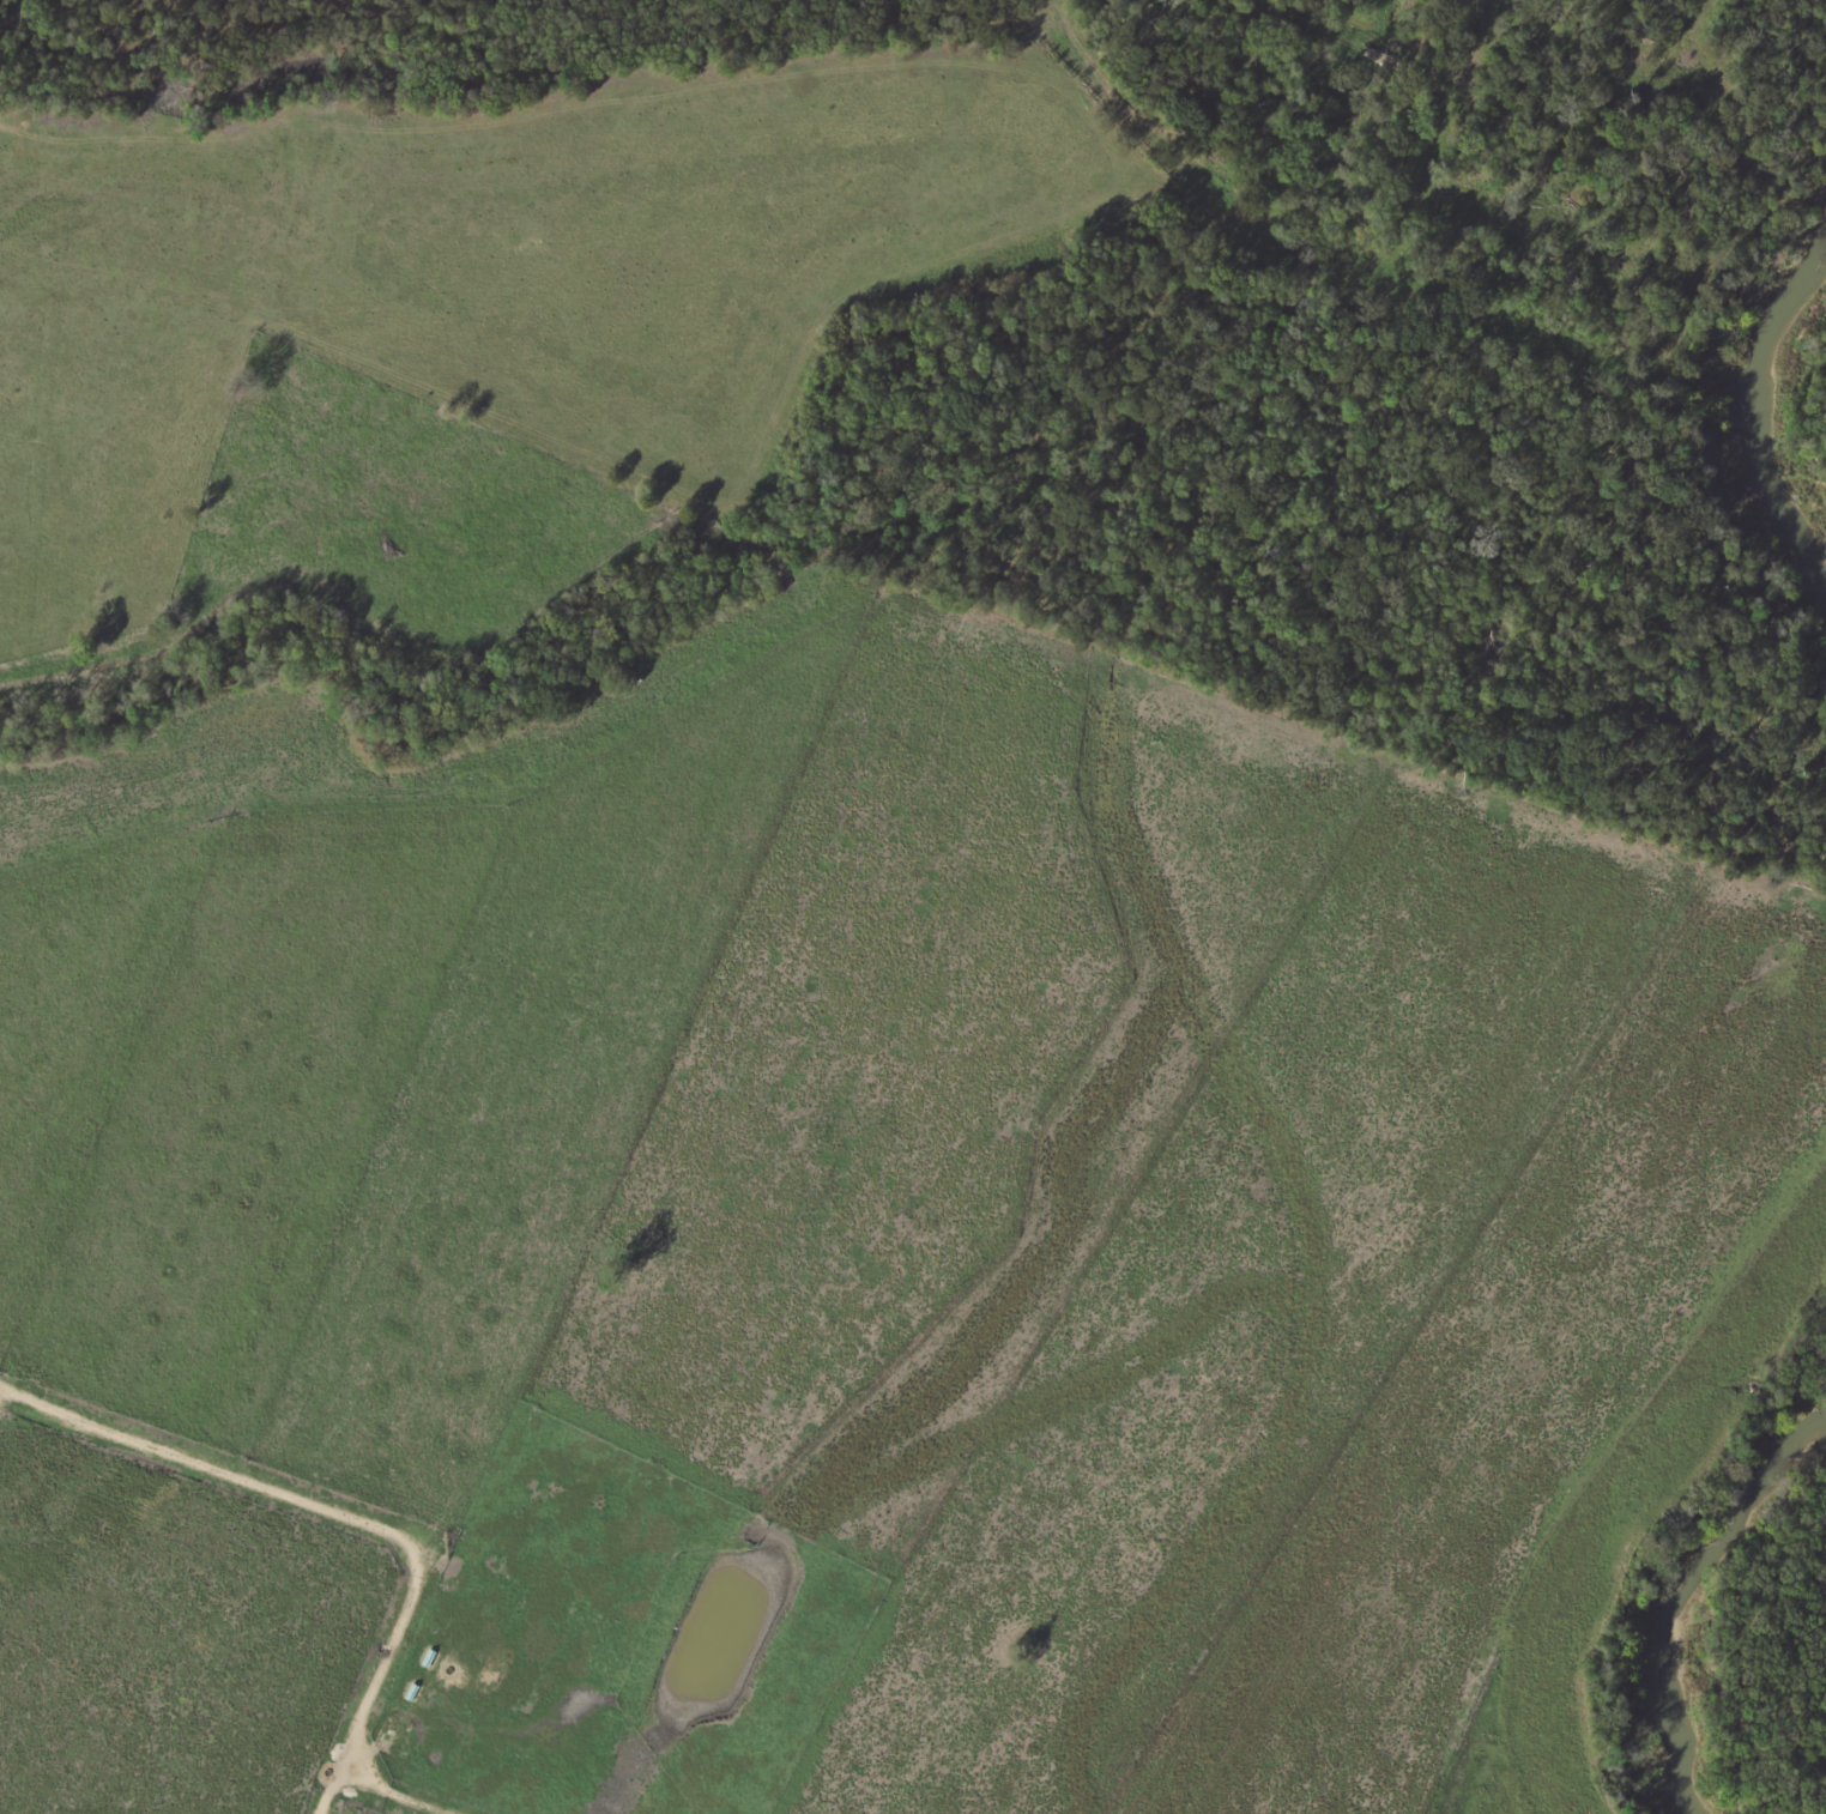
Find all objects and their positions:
river: (1762, 437)
river: (1689, 1607)

